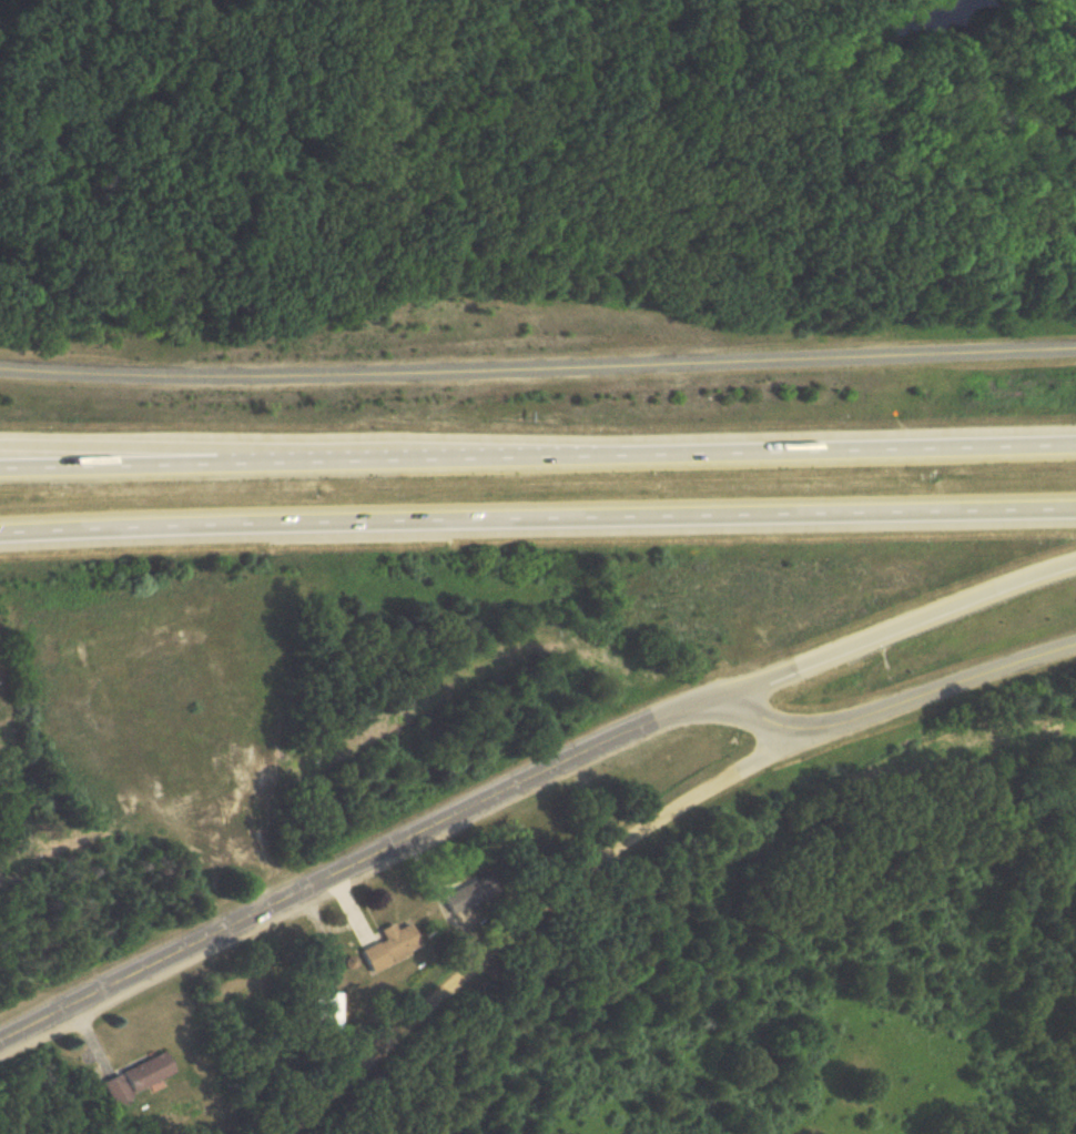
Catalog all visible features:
park: (532, 170)
road: (538, 373)
road: (113, 449)
road: (538, 456)
road: (537, 523)
road: (897, 626)
building: (29, 660)
road: (946, 686)
road: (767, 718)
road: (358, 864)
building: (465, 894)
road: (540, 913)
building: (389, 945)
building: (326, 1011)
building: (134, 1077)

